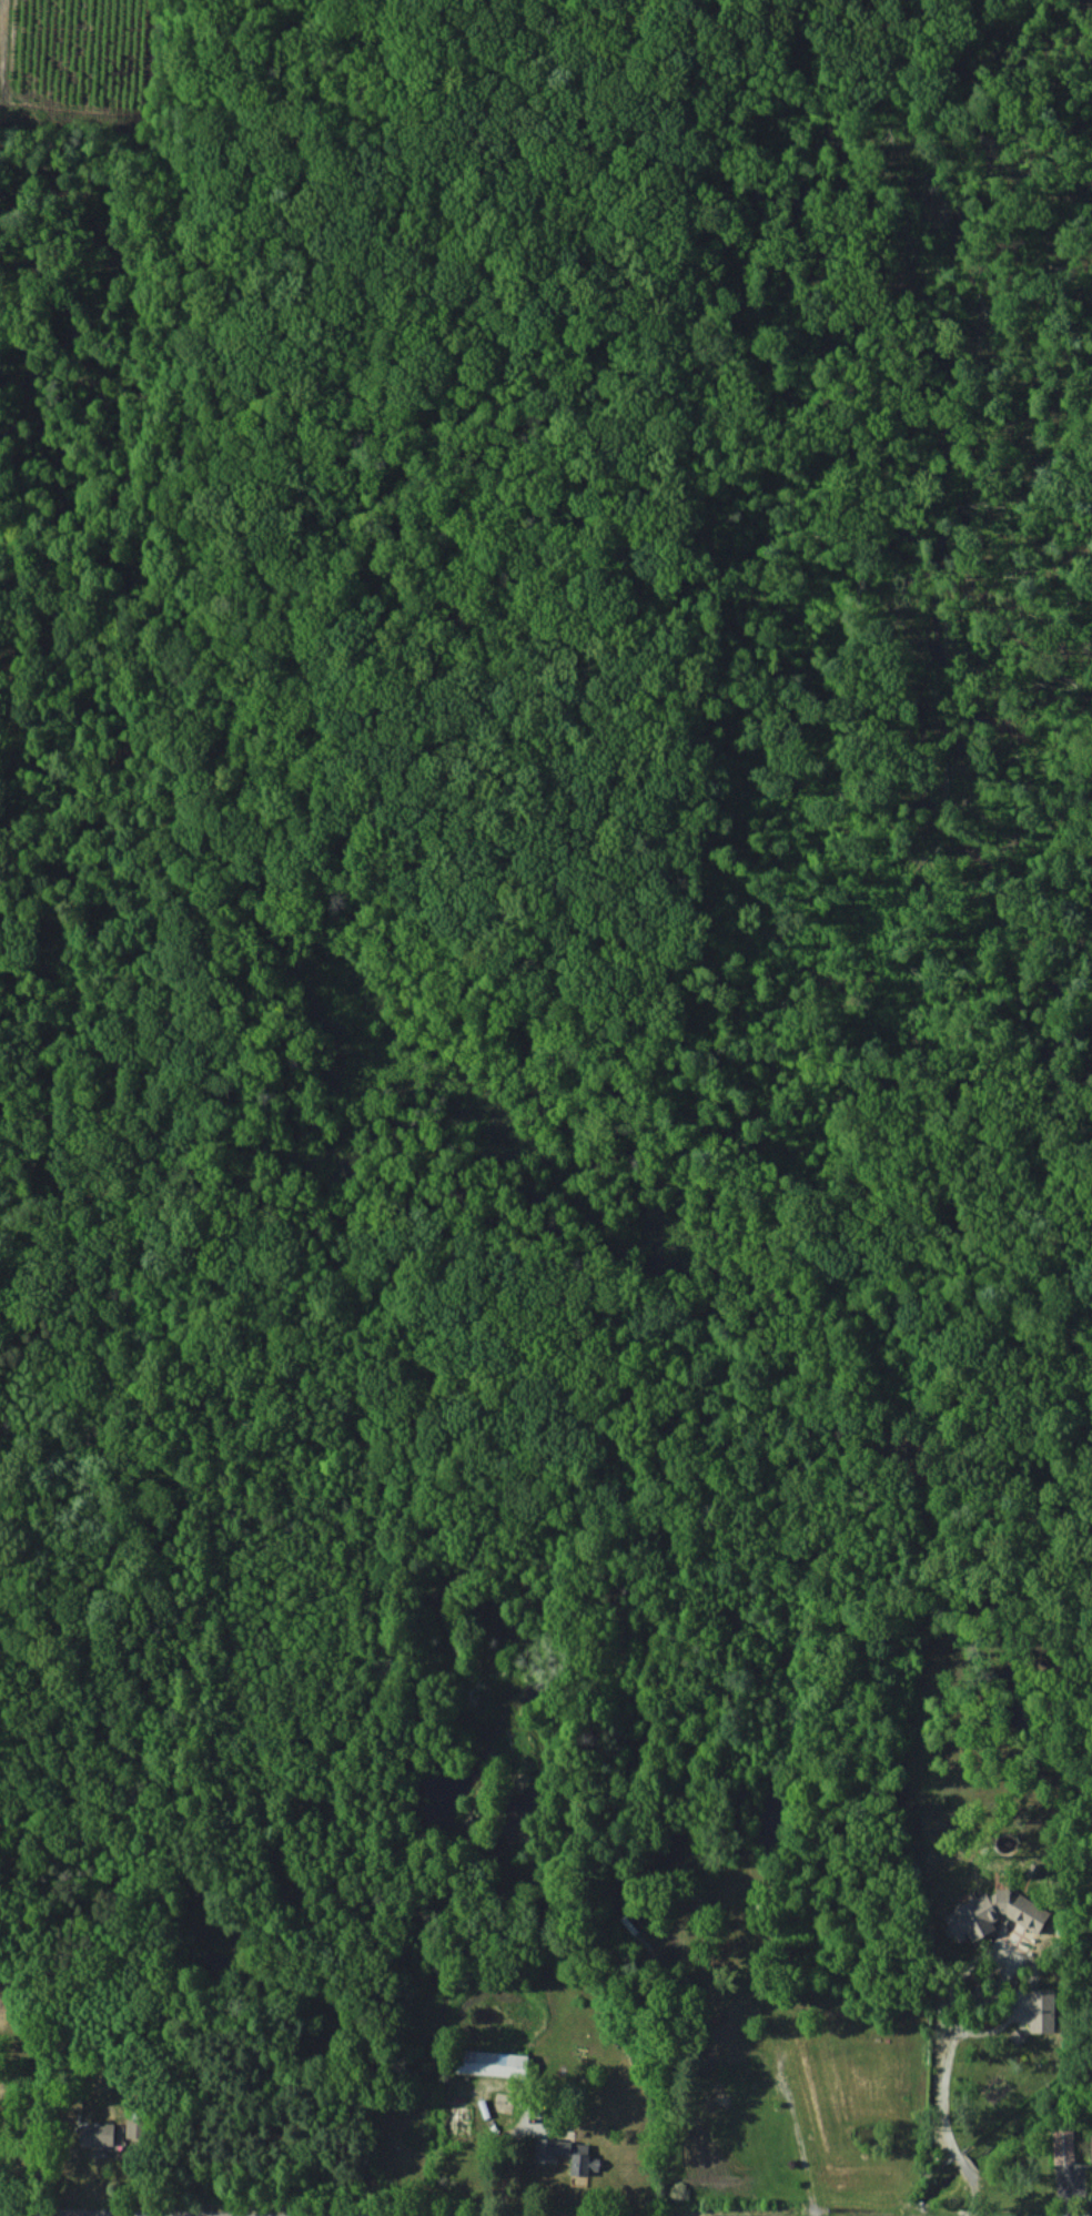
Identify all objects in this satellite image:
building: (993, 1913)
building: (1041, 2010)
building: (492, 2063)
road: (943, 2095)
building: (100, 2134)
building: (1062, 2145)
building: (1091, 2146)
building: (545, 2155)
road: (32, 2214)

